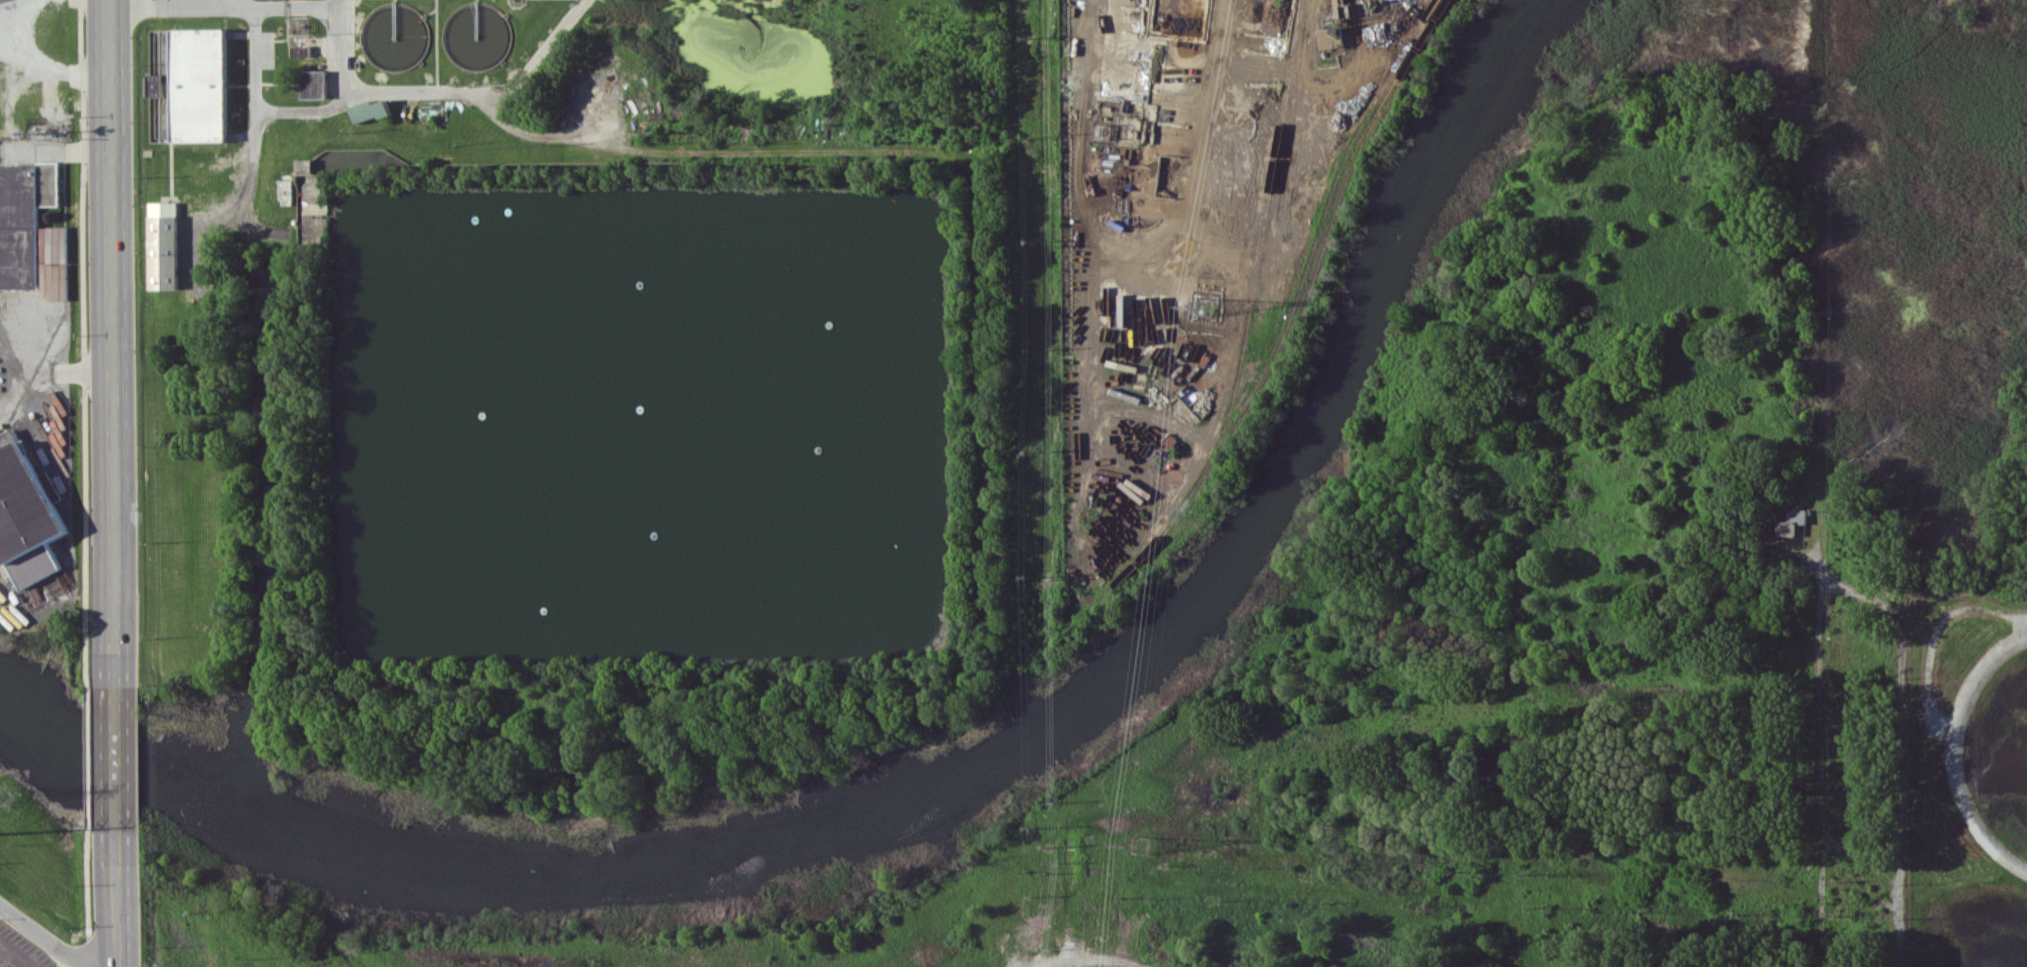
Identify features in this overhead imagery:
road: (228, 3)
road: (342, 3)
road: (515, 6)
road: (22, 28)
road: (239, 34)
building: (1330, 37)
road: (435, 44)
building: (300, 51)
road: (54, 68)
road: (343, 70)
building: (311, 83)
building: (186, 85)
building: (367, 109)
road: (305, 110)
road: (56, 150)
road: (254, 164)
road: (170, 171)
railway: (1326, 204)
building: (21, 216)
building: (161, 244)
railway: (1322, 246)
power tower: (1202, 309)
railway: (1246, 327)
road: (112, 341)
road: (54, 372)
road: (977, 392)
wastewater plant: (585, 400)
building: (1789, 521)
building: (24, 524)
river: (18, 717)
road: (116, 756)
road: (1960, 756)
road: (1817, 773)
river: (981, 778)
power tower: (8, 796)
road: (119, 898)
road: (40, 937)
parking lot: (19, 952)
road: (17, 954)
road: (1085, 958)

